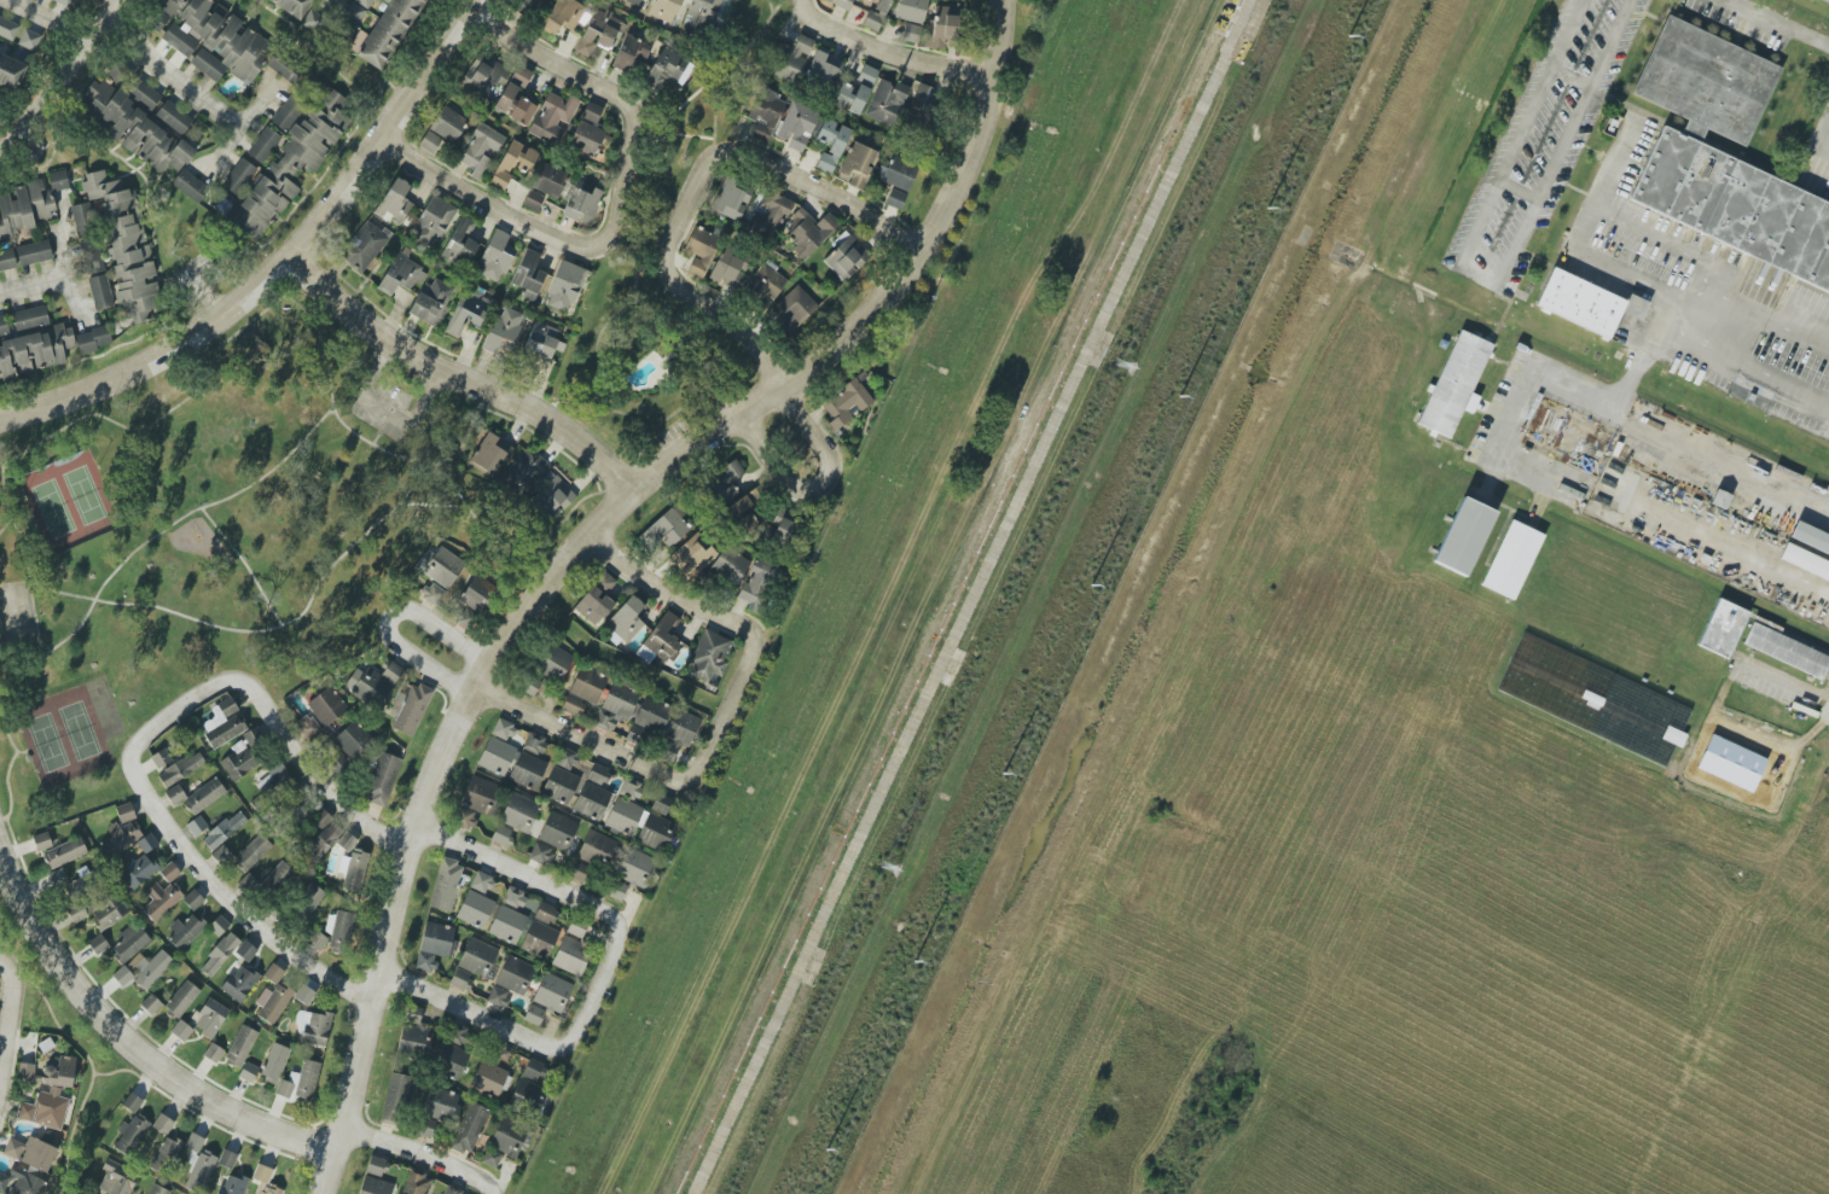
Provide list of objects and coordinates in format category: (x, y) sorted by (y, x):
road: (325, 1)
building: (64, 2)
building: (633, 2)
building: (842, 2)
building: (294, 6)
building: (358, 8)
building: (663, 10)
building: (911, 10)
building: (876, 14)
building: (562, 16)
building: (704, 16)
road: (45, 19)
building: (312, 19)
road: (1784, 21)
building: (942, 25)
building: (7, 29)
building: (599, 31)
building: (388, 33)
building: (910, 33)
building: (28, 39)
building: (211, 39)
building: (631, 53)
road: (883, 54)
building: (667, 70)
building: (11, 71)
road: (166, 72)
building: (823, 74)
building: (482, 75)
road: (1570, 77)
road: (580, 78)
road: (58, 80)
building: (1703, 80)
building: (512, 89)
building: (145, 95)
building: (887, 101)
building: (522, 111)
building: (591, 112)
building: (765, 113)
building: (173, 117)
building: (552, 118)
building: (797, 126)
building: (133, 128)
road: (234, 133)
building: (586, 138)
building: (263, 144)
building: (831, 144)
building: (480, 148)
building: (290, 159)
building: (512, 163)
building: (855, 164)
road: (1614, 165)
building: (896, 173)
building: (239, 176)
road: (792, 177)
building: (58, 180)
building: (550, 180)
building: (188, 186)
road: (1519, 191)
building: (731, 198)
building: (895, 199)
building: (533, 200)
building: (394, 202)
building: (582, 203)
building: (1735, 203)
building: (23, 208)
building: (771, 212)
building: (83, 220)
building: (434, 221)
road: (515, 221)
building: (809, 232)
park: (641, 234)
building: (460, 244)
building: (364, 245)
building: (124, 246)
road: (60, 247)
building: (699, 250)
building: (34, 252)
building: (495, 256)
building: (847, 258)
building: (7, 261)
building: (93, 261)
road: (281, 264)
building: (728, 267)
road: (1619, 267)
building: (401, 273)
building: (528, 274)
road: (1487, 279)
building: (766, 283)
road: (34, 285)
building: (564, 286)
road: (1705, 286)
building: (100, 292)
building: (1579, 297)
building: (430, 302)
road: (698, 303)
building: (795, 309)
building: (468, 310)
road: (1688, 316)
building: (30, 318)
building: (503, 331)
building: (93, 339)
building: (542, 340)
building: (31, 349)
power tower: (1130, 355)
road: (1752, 367)
road: (1533, 371)
building: (1451, 379)
road: (459, 380)
road: (330, 403)
building: (844, 403)
road: (85, 415)
road: (381, 415)
road: (378, 432)
road: (1674, 448)
building: (489, 454)
road: (0, 464)
building: (524, 472)
building: (725, 483)
road: (813, 483)
building: (755, 493)
building: (552, 499)
building: (1720, 499)
park: (66, 500)
building: (741, 516)
road: (4, 526)
building: (666, 528)
building: (784, 530)
building: (1808, 532)
building: (1459, 537)
park: (220, 538)
road: (581, 540)
road: (1736, 551)
building: (693, 557)
building: (1509, 557)
road: (124, 559)
building: (1802, 559)
road: (243, 564)
building: (440, 566)
building: (744, 573)
building: (432, 593)
building: (477, 593)
building: (597, 599)
road: (303, 607)
road: (703, 608)
road: (390, 616)
building: (626, 619)
building: (1718, 627)
building: (663, 637)
building: (1788, 648)
building: (709, 656)
building: (552, 662)
building: (373, 682)
building: (529, 685)
building: (583, 691)
building: (326, 706)
building: (615, 706)
building: (412, 709)
building: (214, 718)
building: (648, 722)
building: (226, 726)
building: (307, 726)
park: (69, 730)
building: (503, 730)
building: (678, 735)
building: (353, 740)
building: (534, 744)
road: (291, 749)
road: (615, 752)
building: (243, 756)
building: (497, 757)
building: (161, 758)
building: (337, 762)
building: (180, 769)
building: (527, 770)
building: (598, 774)
building: (382, 780)
building: (559, 786)
road: (6, 787)
building: (629, 788)
building: (175, 794)
building: (203, 796)
building: (478, 800)
building: (592, 802)
building: (661, 804)
building: (519, 812)
building: (623, 817)
building: (196, 826)
building: (223, 831)
building: (655, 832)
building: (121, 833)
building: (324, 834)
building: (500, 834)
building: (552, 838)
building: (42, 840)
building: (146, 843)
building: (597, 850)
building: (251, 851)
building: (64, 852)
building: (222, 855)
power tower: (890, 858)
building: (342, 864)
building: (634, 867)
building: (137, 870)
building: (169, 872)
building: (580, 872)
road: (201, 873)
road: (532, 876)
building: (269, 879)
building: (481, 883)
building: (445, 884)
building: (616, 891)
building: (513, 897)
building: (161, 899)
building: (193, 899)
building: (307, 901)
building: (475, 909)
building: (106, 911)
building: (507, 925)
building: (219, 926)
building: (338, 931)
building: (185, 932)
building: (541, 932)
building: (315, 940)
building: (129, 942)
building: (98, 944)
building: (434, 945)
building: (573, 949)
building: (245, 950)
building: (219, 954)
building: (472, 963)
building: (152, 969)
building: (273, 973)
building: (515, 974)
building: (122, 975)
building: (239, 983)
building: (307, 991)
building: (552, 994)
building: (498, 996)
building: (181, 1000)
building: (272, 1002)
building: (151, 1004)
building: (534, 1015)
building: (210, 1018)
road: (11, 1021)
building: (312, 1027)
building: (181, 1030)
road: (518, 1032)
building: (414, 1033)
building: (458, 1035)
building: (240, 1047)
road: (130, 1048)
building: (213, 1053)
building: (449, 1060)
building: (274, 1062)
building: (534, 1071)
building: (248, 1072)
building: (488, 1079)
building: (300, 1083)
building: (47, 1093)
building: (524, 1096)
building: (395, 1099)
building: (132, 1102)
building: (441, 1103)
building: (162, 1124)
building: (426, 1128)
building: (469, 1128)
building: (132, 1135)
building: (193, 1142)
building: (505, 1142)
road: (420, 1152)
building: (30, 1153)
building: (166, 1154)
building: (227, 1159)
building: (201, 1171)
building: (374, 1178)
building: (117, 1180)
building: (265, 1181)
building: (21, 1182)
building: (414, 1183)
building: (232, 1186)
building: (156, 1189)
building: (449, 1190)
building: (83, 1193)

